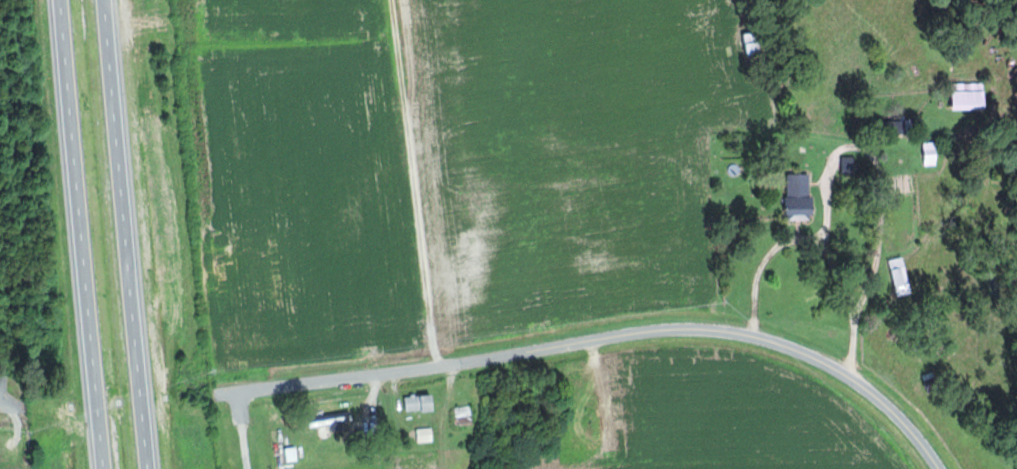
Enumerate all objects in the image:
building: (974, 97)
building: (934, 153)
road: (876, 161)
building: (804, 196)
road: (88, 234)
road: (130, 234)
road: (763, 262)
building: (904, 276)
road: (608, 338)
road: (5, 403)
building: (422, 403)
road: (243, 430)
building: (427, 435)

